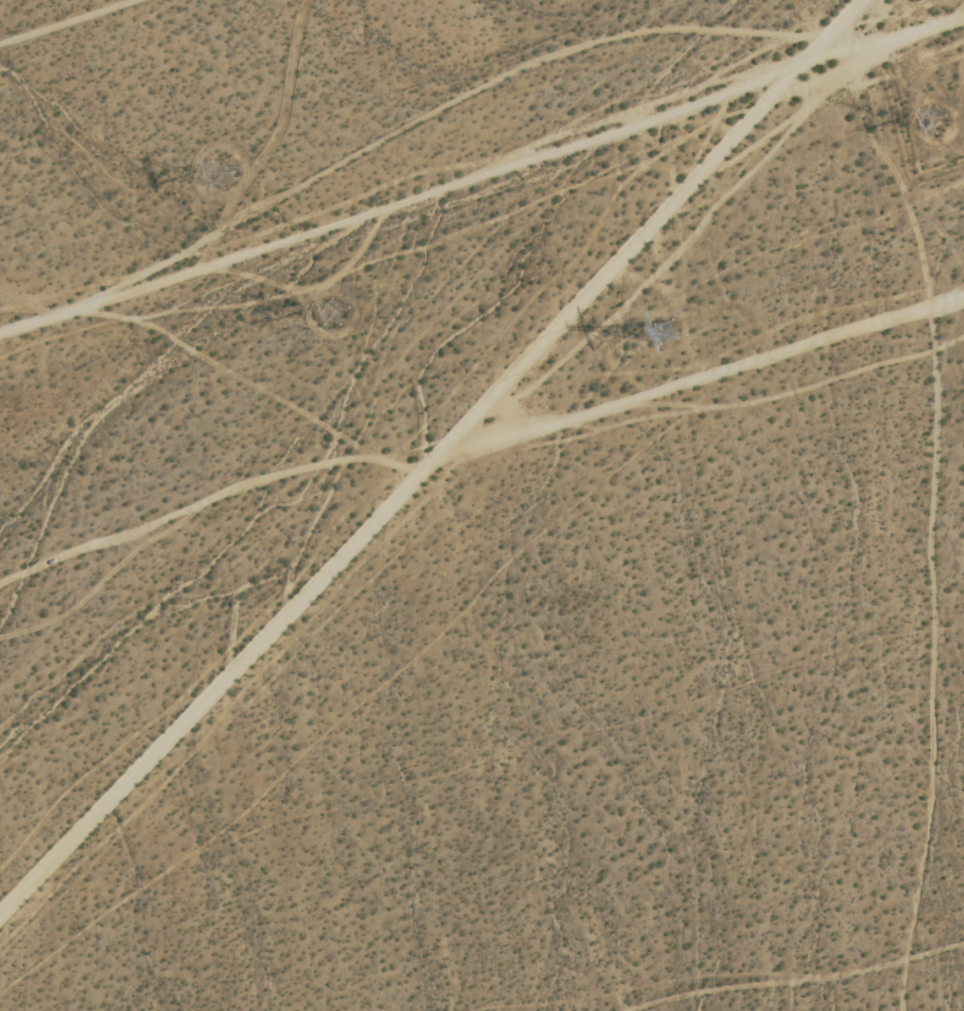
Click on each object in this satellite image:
power tower: (946, 124)
road: (483, 167)
power tower: (228, 176)
power tower: (349, 308)
power tower: (676, 330)
road: (707, 367)
road: (434, 466)
road: (797, 980)

